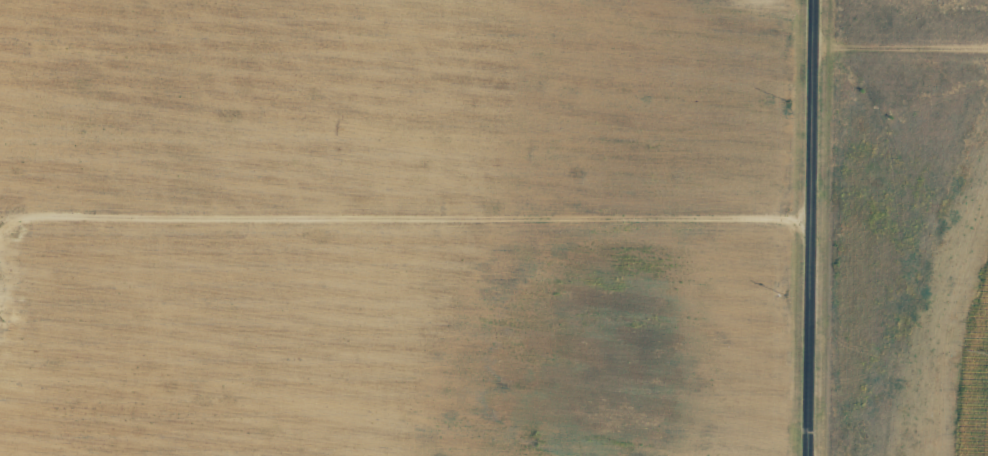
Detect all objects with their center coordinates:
road: (824, 228)

